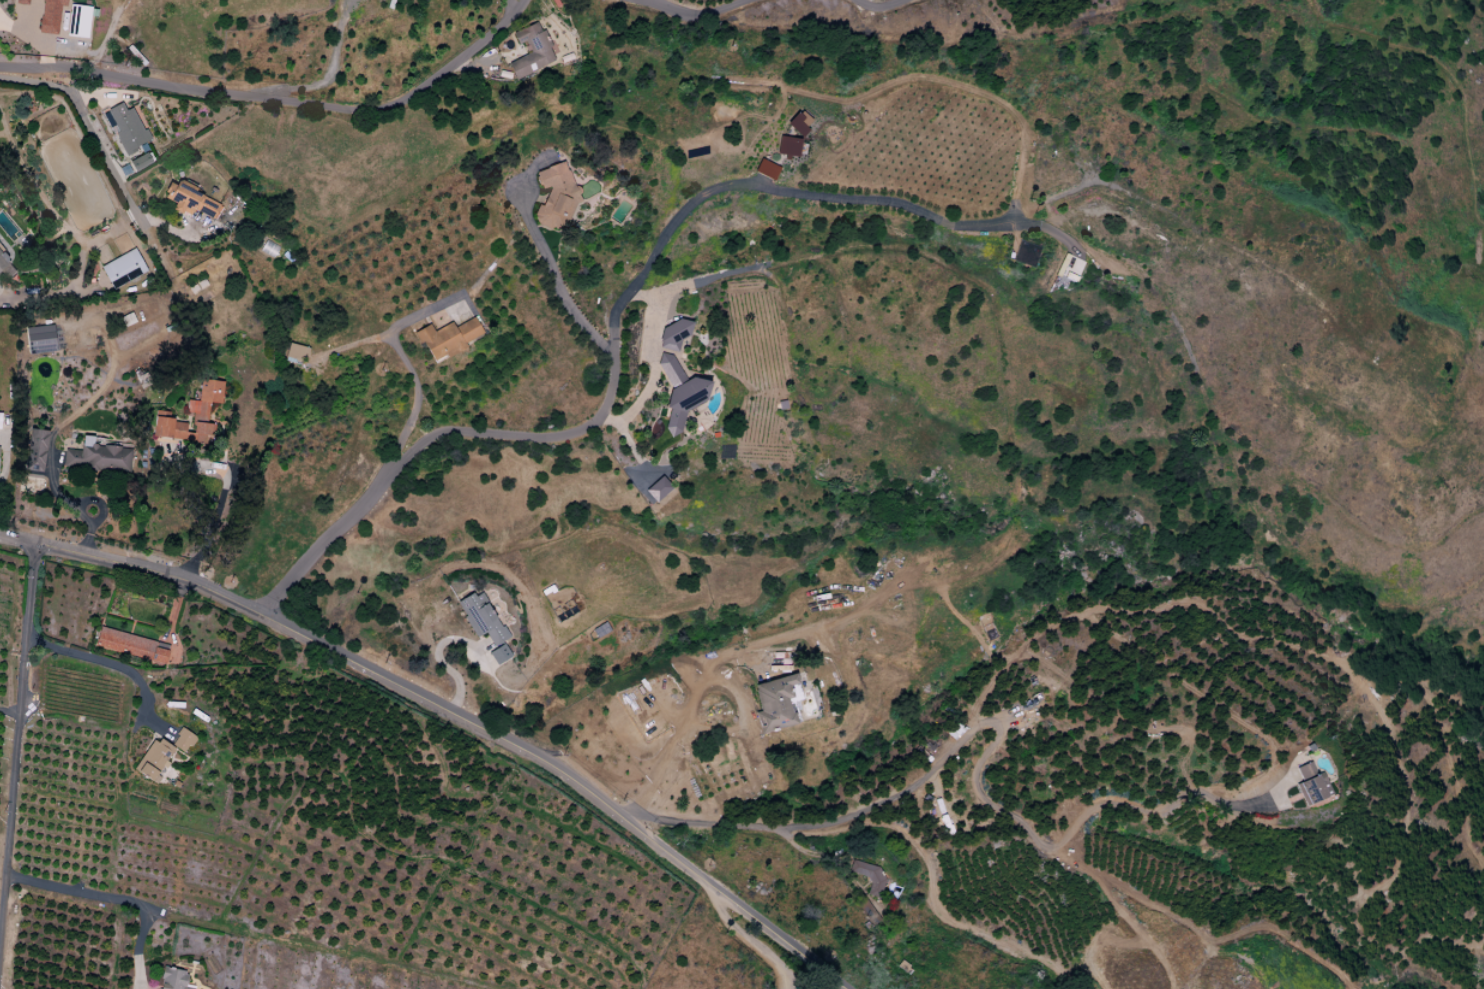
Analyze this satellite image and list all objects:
building: (21, 2)
road: (730, 3)
road: (882, 4)
road: (508, 5)
road: (684, 13)
building: (50, 16)
building: (78, 21)
road: (31, 38)
building: (531, 51)
road: (278, 101)
building: (798, 122)
building: (128, 129)
building: (787, 146)
road: (100, 150)
building: (140, 161)
building: (766, 169)
building: (555, 197)
building: (190, 200)
building: (268, 249)
building: (4, 261)
building: (123, 269)
road: (557, 280)
road: (655, 318)
road: (612, 334)
building: (447, 338)
building: (40, 339)
building: (296, 352)
building: (677, 377)
road: (415, 404)
building: (192, 417)
building: (0, 419)
building: (36, 450)
building: (99, 459)
building: (656, 490)
road: (217, 508)
building: (481, 620)
building: (131, 646)
road: (57, 650)
building: (499, 654)
building: (777, 703)
road: (447, 711)
road: (1003, 729)
road: (675, 732)
building: (182, 741)
building: (152, 761)
building: (1311, 785)
road: (12, 795)
building: (869, 877)
road: (112, 898)
road: (746, 941)
building: (172, 979)

